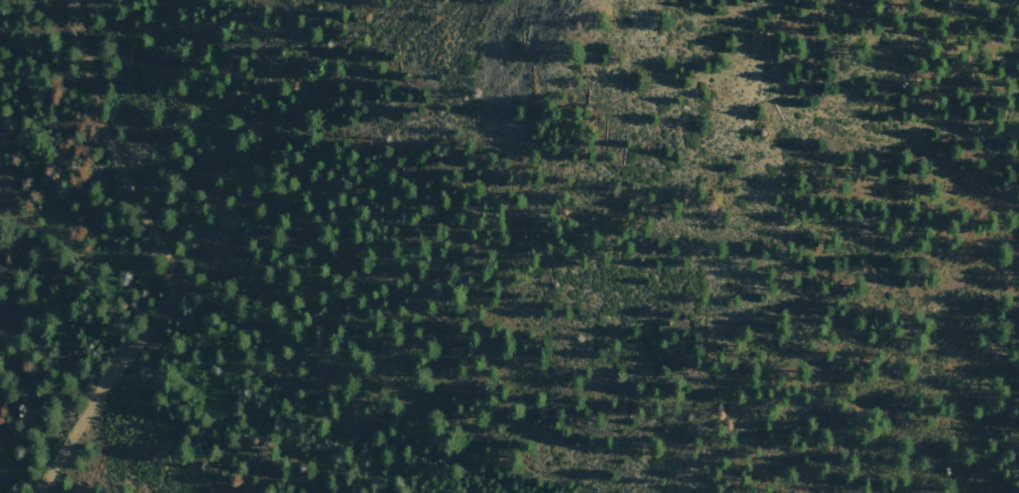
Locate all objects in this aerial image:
road: (165, 257)
road: (235, 312)

